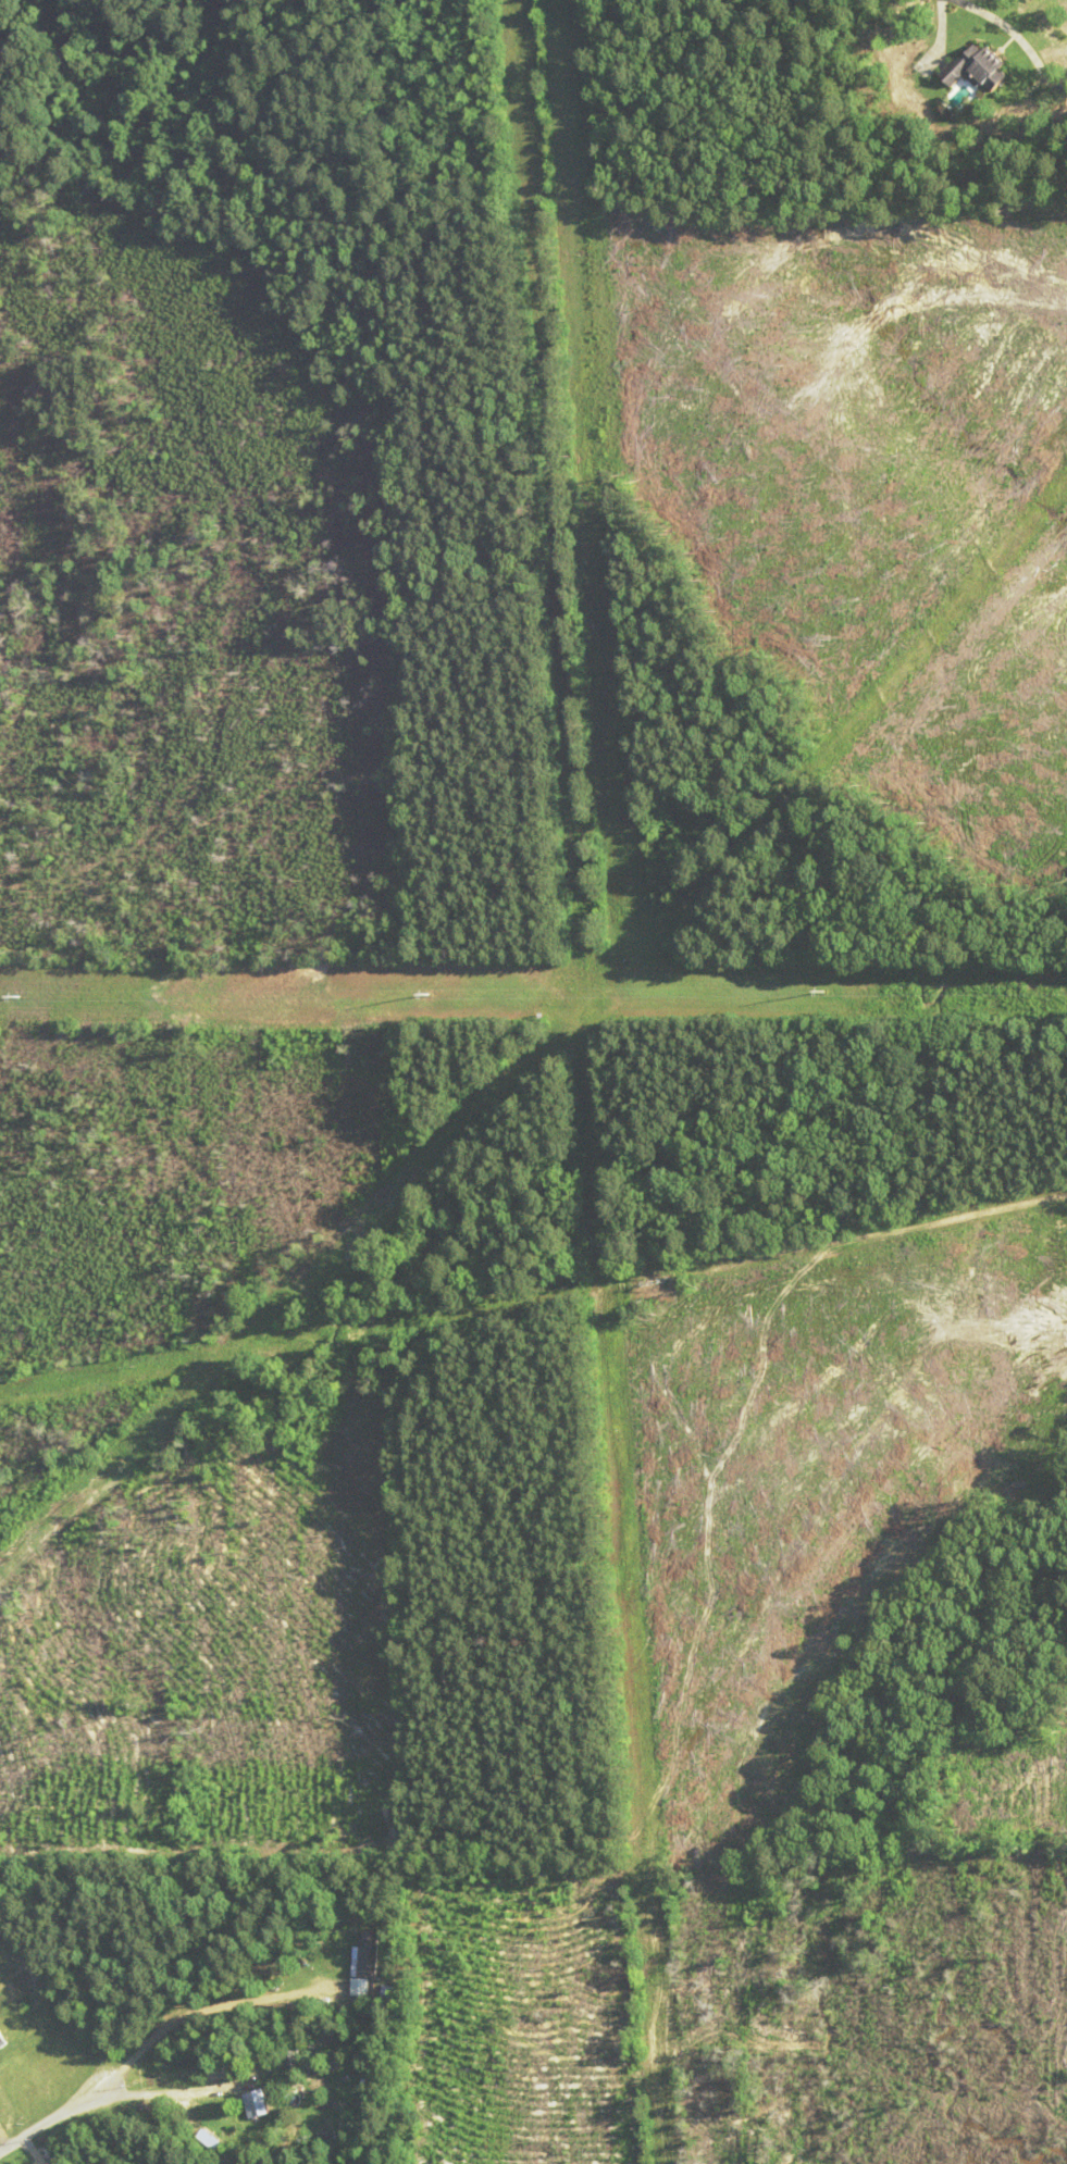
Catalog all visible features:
building: (978, 67)
building: (2, 2040)
building: (258, 2102)
road: (53, 2119)

